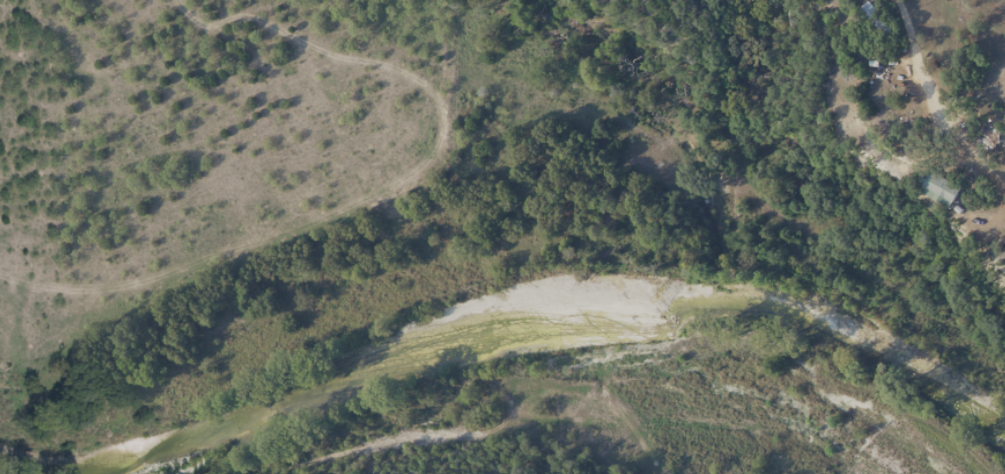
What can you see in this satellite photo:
building: (878, 19)
building: (945, 187)
river: (567, 312)

